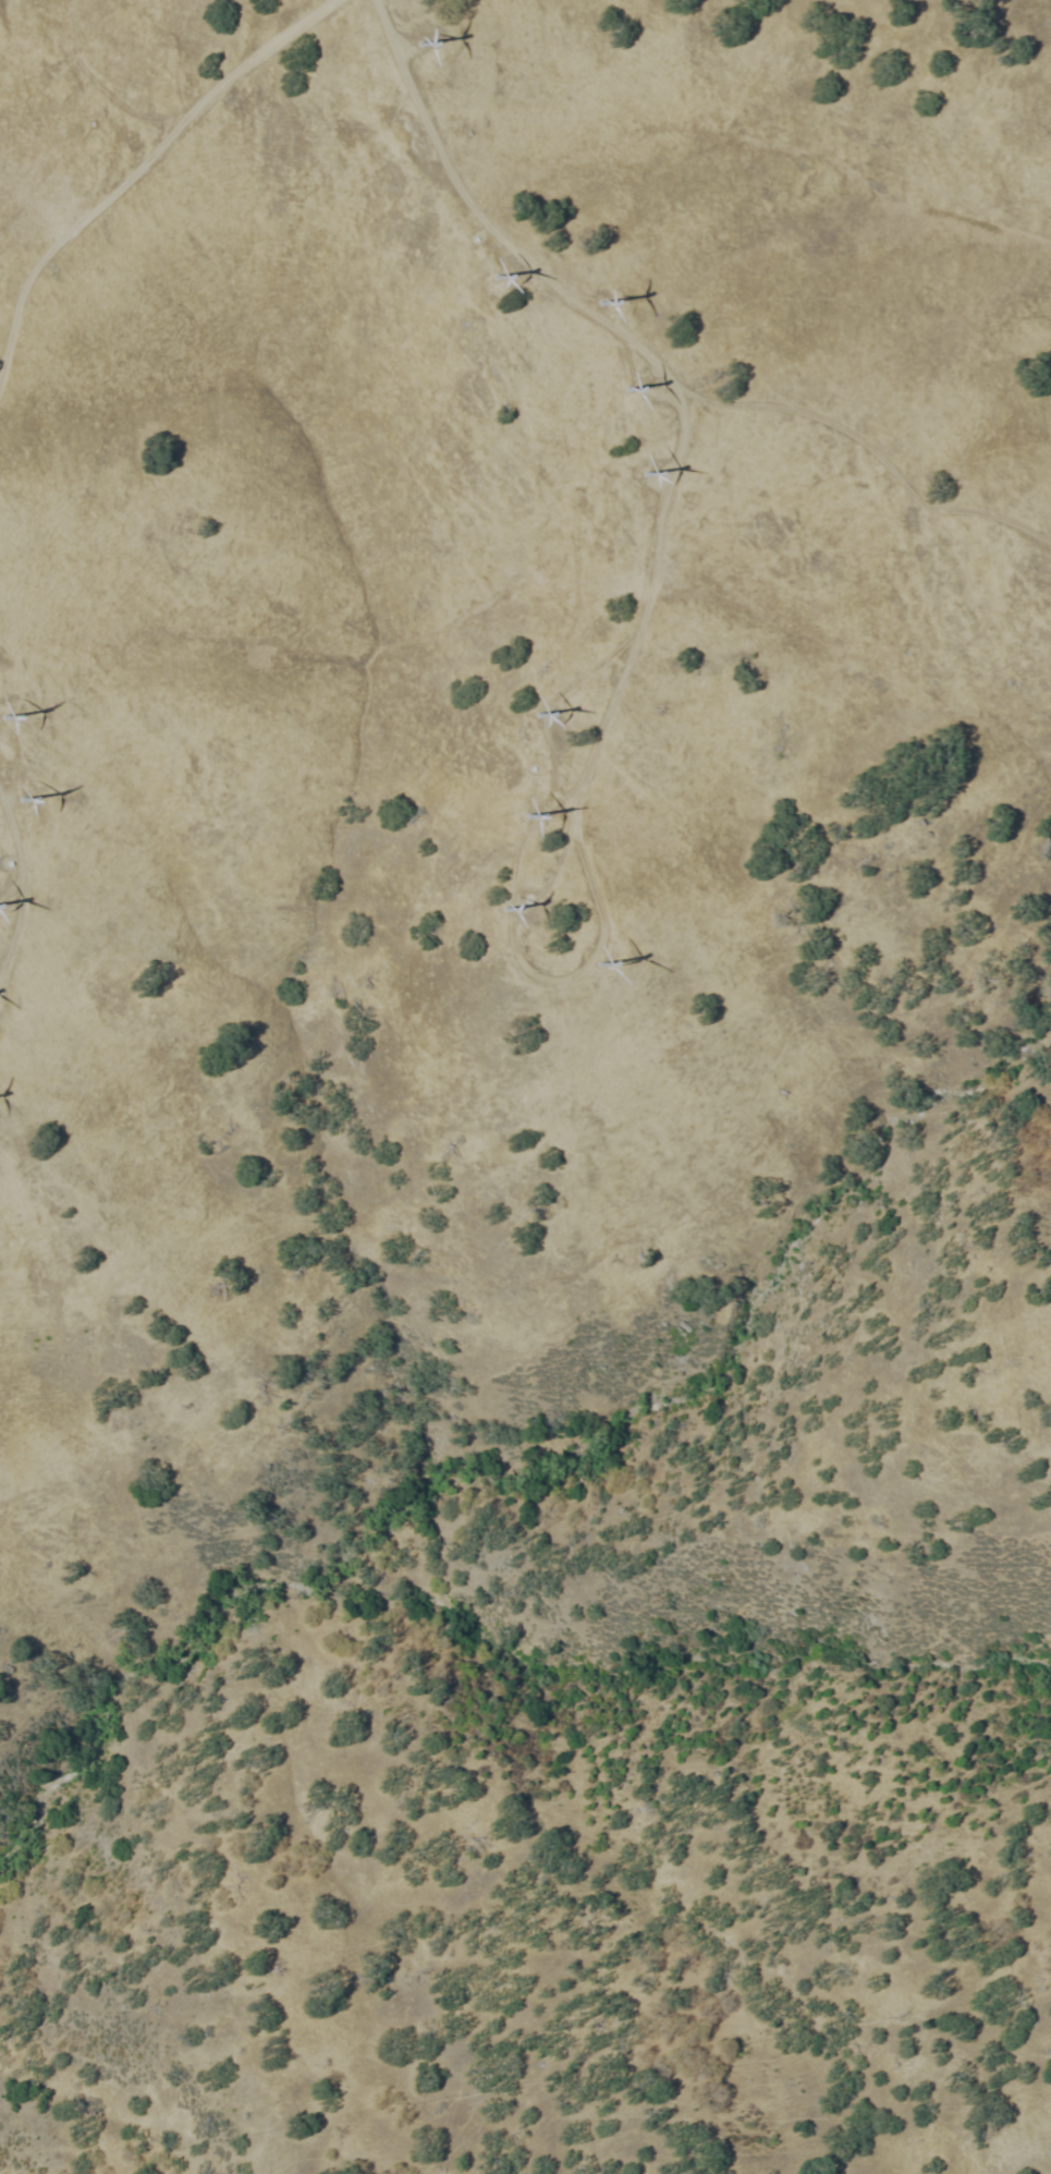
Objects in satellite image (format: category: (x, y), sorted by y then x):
wind turbine: (418, 46)
road: (142, 169)
road: (481, 224)
wind turbine: (488, 279)
wind turbine: (598, 300)
road: (1, 363)
wind turbine: (621, 392)
road: (871, 450)
wind turbine: (640, 482)
wind turbine: (531, 716)
road: (551, 764)
wind turbine: (24, 794)
road: (573, 801)
wind turbine: (514, 817)
road: (12, 886)
road: (20, 890)
wind turbine: (494, 907)
wind turbine: (606, 970)

